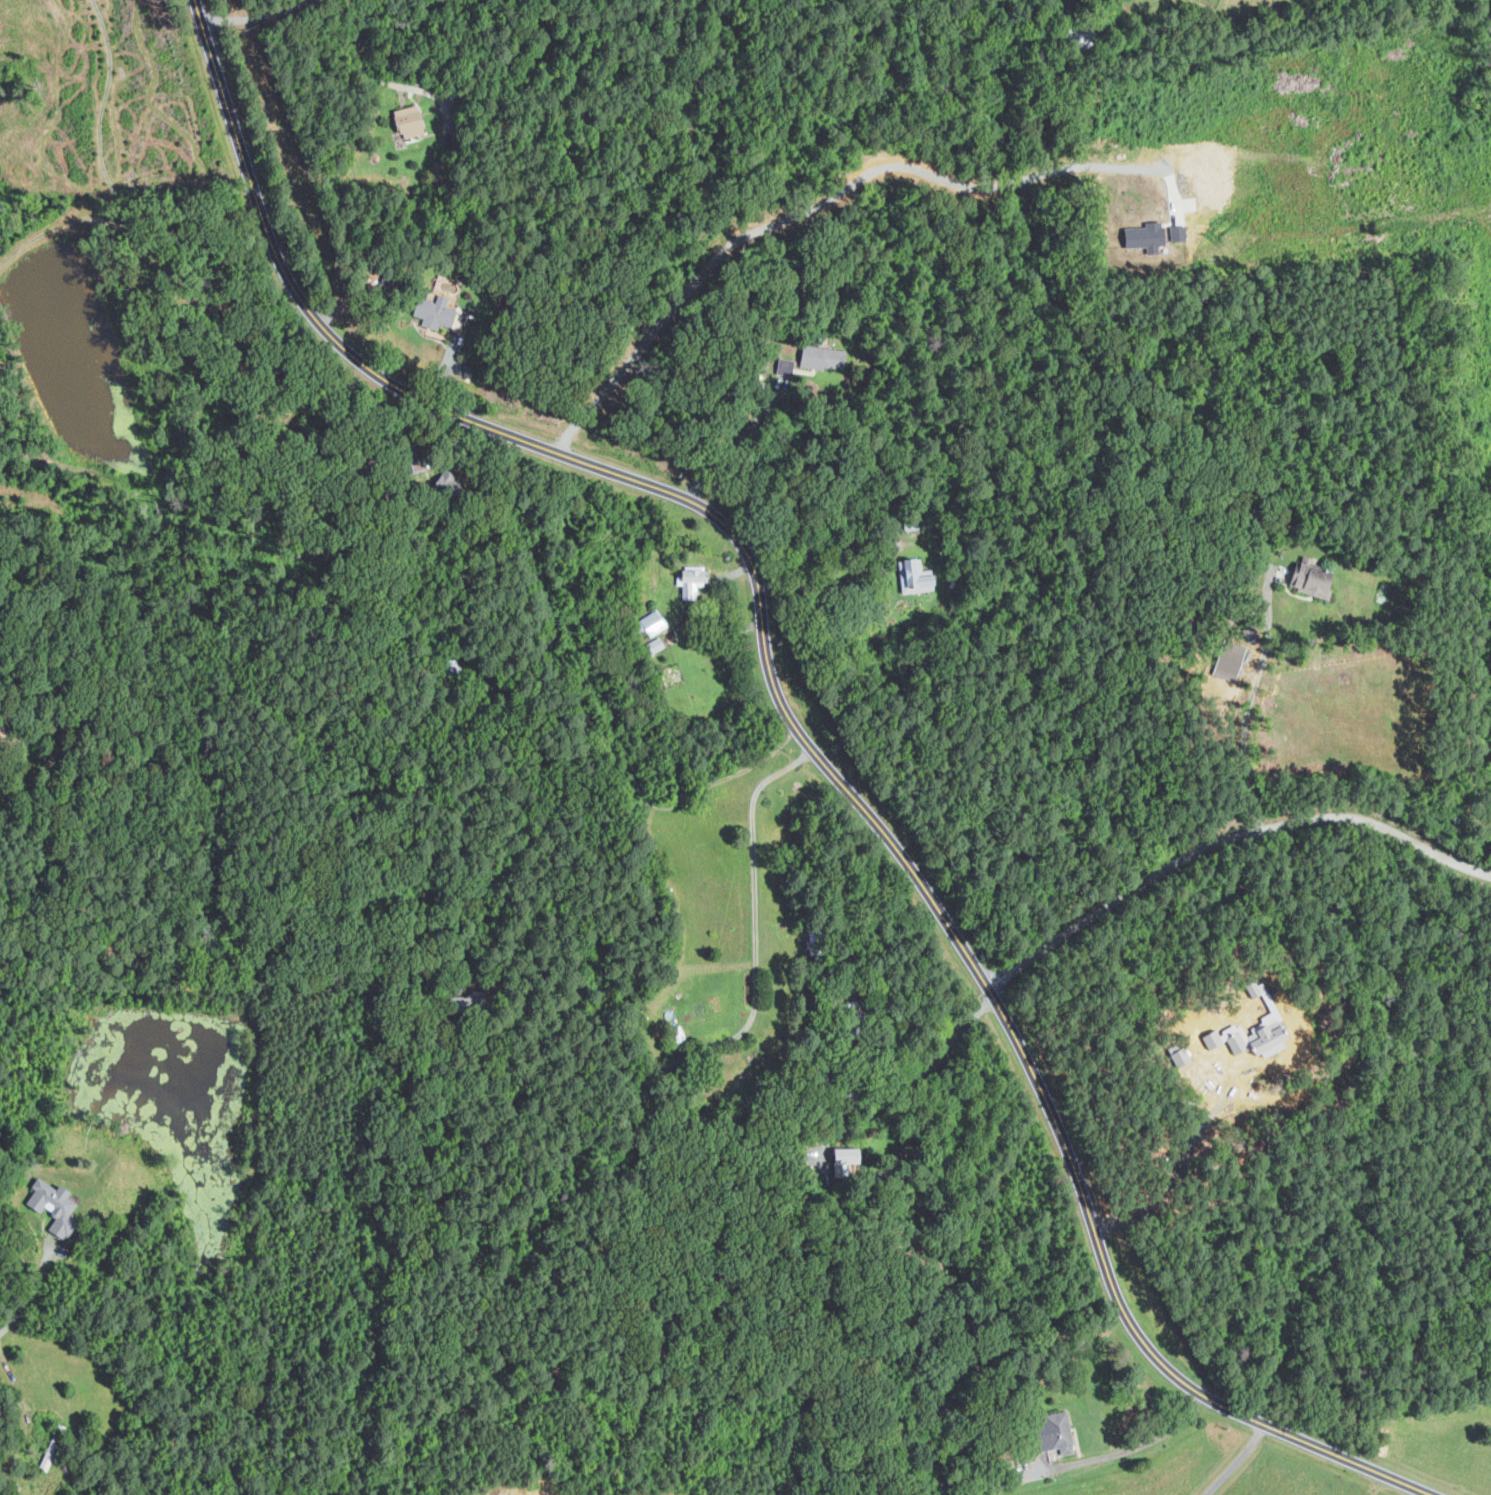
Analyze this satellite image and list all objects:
road: (251, 13)
road: (385, 81)
building: (410, 121)
road: (810, 208)
building: (1150, 242)
building: (435, 312)
building: (824, 357)
building: (786, 368)
road: (733, 445)
building: (451, 482)
building: (917, 576)
building: (1310, 579)
building: (694, 581)
road: (814, 585)
building: (653, 622)
building: (655, 644)
building: (1227, 663)
road: (1252, 706)
road: (802, 735)
road: (1227, 840)
road: (754, 896)
building: (1264, 1034)
building: (1214, 1038)
building: (1239, 1042)
building: (1182, 1056)
road: (938, 1060)
road: (830, 1077)
road: (837, 1121)
building: (845, 1159)
building: (51, 1206)
road: (31, 1291)
road: (18, 1381)
building: (1058, 1432)
road: (1139, 1445)
road: (1235, 1460)

